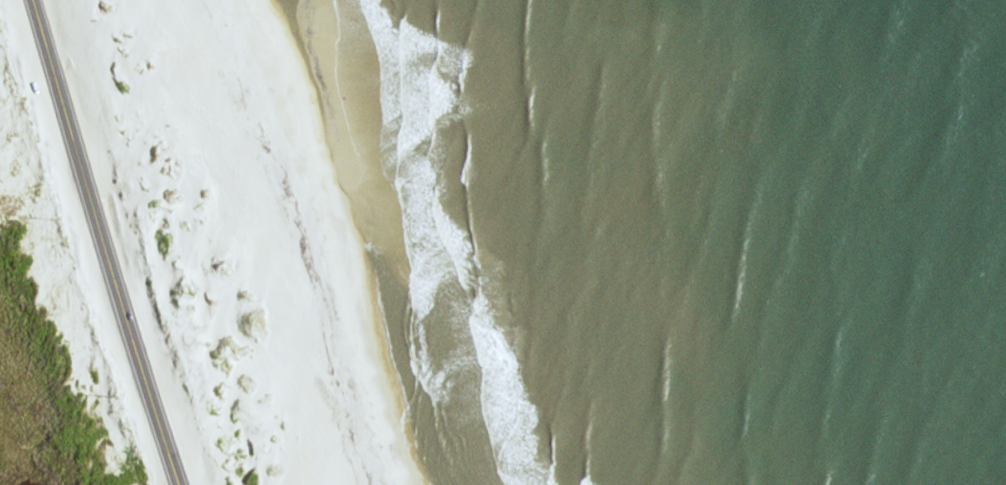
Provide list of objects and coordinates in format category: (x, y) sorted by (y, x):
power tower: (56, 217)
road: (103, 243)
road: (287, 252)
power tower: (117, 396)

